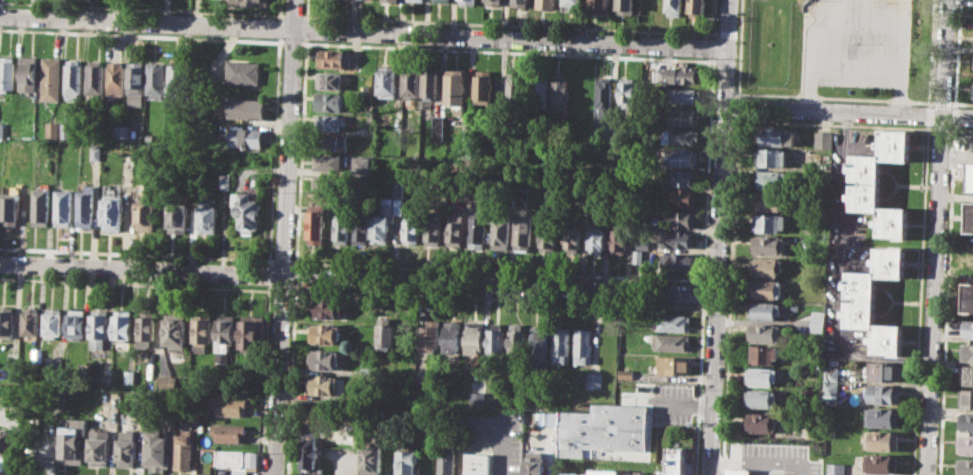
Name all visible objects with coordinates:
building: (393, 0)
building: (419, 0)
building: (443, 0)
building: (469, 1)
building: (248, 2)
building: (495, 2)
building: (522, 2)
building: (548, 4)
building: (574, 4)
building: (601, 4)
building: (627, 6)
building: (652, 7)
building: (676, 7)
building: (697, 7)
road: (142, 8)
road: (308, 9)
road: (294, 15)
road: (524, 23)
road: (307, 28)
road: (363, 31)
parking lot: (857, 43)
road: (810, 47)
road: (899, 56)
building: (334, 58)
building: (244, 72)
building: (6, 73)
building: (27, 73)
building: (681, 75)
building: (93, 76)
building: (113, 77)
building: (134, 77)
building: (50, 78)
building: (71, 79)
building: (154, 79)
building: (174, 79)
building: (332, 80)
building: (387, 81)
building: (412, 81)
building: (432, 83)
building: (485, 86)
building: (516, 88)
building: (457, 90)
building: (541, 90)
building: (972, 90)
building: (628, 91)
building: (562, 94)
road: (789, 94)
building: (685, 95)
building: (605, 97)
building: (331, 101)
road: (929, 102)
road: (962, 103)
building: (245, 108)
road: (848, 110)
building: (683, 116)
building: (330, 122)
building: (439, 127)
building: (0, 129)
building: (50, 130)
building: (65, 130)
road: (941, 130)
building: (120, 132)
building: (134, 132)
building: (775, 135)
building: (680, 136)
building: (245, 137)
building: (822, 138)
building: (335, 141)
building: (972, 142)
building: (97, 152)
road: (302, 152)
building: (682, 157)
building: (771, 157)
building: (332, 162)
building: (363, 165)
building: (820, 171)
building: (970, 176)
building: (683, 177)
building: (771, 179)
building: (225, 181)
building: (320, 182)
building: (879, 185)
building: (521, 196)
building: (683, 197)
road: (735, 200)
building: (768, 201)
building: (42, 206)
building: (86, 206)
building: (63, 207)
building: (10, 208)
building: (247, 212)
building: (113, 213)
building: (146, 215)
building: (969, 217)
building: (178, 218)
building: (207, 218)
building: (684, 219)
building: (383, 221)
building: (769, 222)
building: (316, 224)
building: (342, 227)
building: (362, 227)
building: (455, 229)
building: (478, 229)
building: (433, 230)
building: (405, 231)
building: (501, 232)
building: (524, 233)
building: (548, 233)
road: (285, 237)
building: (572, 237)
road: (720, 237)
road: (936, 237)
building: (597, 239)
building: (619, 239)
building: (680, 239)
building: (642, 244)
building: (768, 244)
road: (126, 253)
building: (638, 257)
building: (677, 261)
building: (765, 267)
road: (296, 276)
road: (358, 278)
building: (763, 289)
road: (434, 296)
building: (968, 297)
road: (920, 300)
building: (874, 301)
road: (946, 301)
building: (326, 309)
building: (764, 309)
building: (817, 312)
building: (31, 321)
building: (7, 322)
building: (55, 322)
building: (78, 323)
building: (672, 323)
building: (816, 325)
building: (101, 327)
building: (123, 328)
building: (967, 328)
building: (148, 329)
building: (175, 332)
building: (203, 332)
building: (225, 332)
building: (250, 332)
building: (326, 333)
building: (765, 333)
building: (386, 334)
building: (452, 336)
building: (430, 337)
building: (474, 338)
building: (496, 339)
building: (517, 339)
building: (671, 341)
building: (540, 343)
building: (561, 345)
building: (584, 346)
building: (966, 352)
building: (761, 354)
building: (326, 359)
building: (674, 365)
building: (55, 368)
building: (885, 371)
building: (368, 372)
building: (626, 373)
building: (830, 373)
building: (108, 374)
building: (966, 374)
building: (763, 376)
building: (131, 377)
building: (595, 378)
road: (292, 380)
building: (167, 382)
building: (328, 384)
building: (830, 389)
building: (884, 394)
building: (60, 397)
building: (477, 397)
building: (760, 397)
building: (966, 398)
parking lot: (660, 400)
building: (227, 405)
building: (883, 416)
building: (550, 419)
building: (965, 421)
building: (759, 422)
building: (604, 428)
building: (812, 430)
building: (230, 431)
building: (881, 440)
building: (73, 441)
building: (830, 443)
building: (965, 444)
building: (127, 445)
building: (6, 446)
building: (99, 447)
building: (157, 449)
building: (184, 449)
building: (310, 449)
building: (449, 455)
building: (372, 459)
building: (237, 460)
building: (677, 461)
building: (409, 462)
building: (880, 463)
building: (476, 464)
building: (536, 465)
building: (964, 466)
building: (835, 468)
building: (599, 471)
building: (737, 471)
building: (613, 472)
building: (569, 473)

